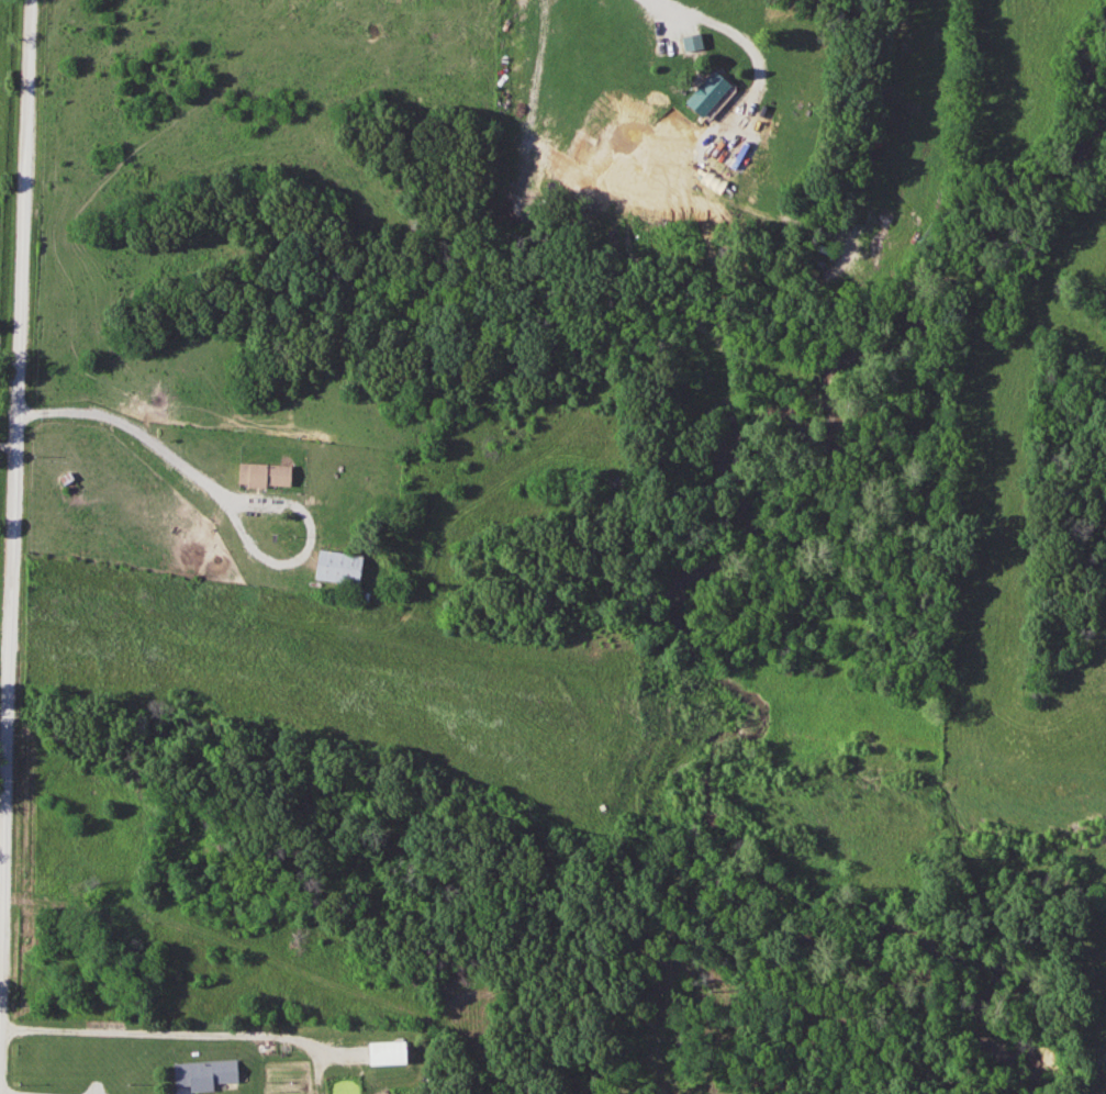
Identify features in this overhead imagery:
road: (673, 8)
building: (701, 94)
road: (127, 428)
road: (7, 444)
river: (740, 469)
building: (260, 477)
road: (12, 478)
road: (308, 533)
building: (333, 568)
road: (1, 885)
road: (181, 1035)
building: (382, 1054)
building: (202, 1075)

